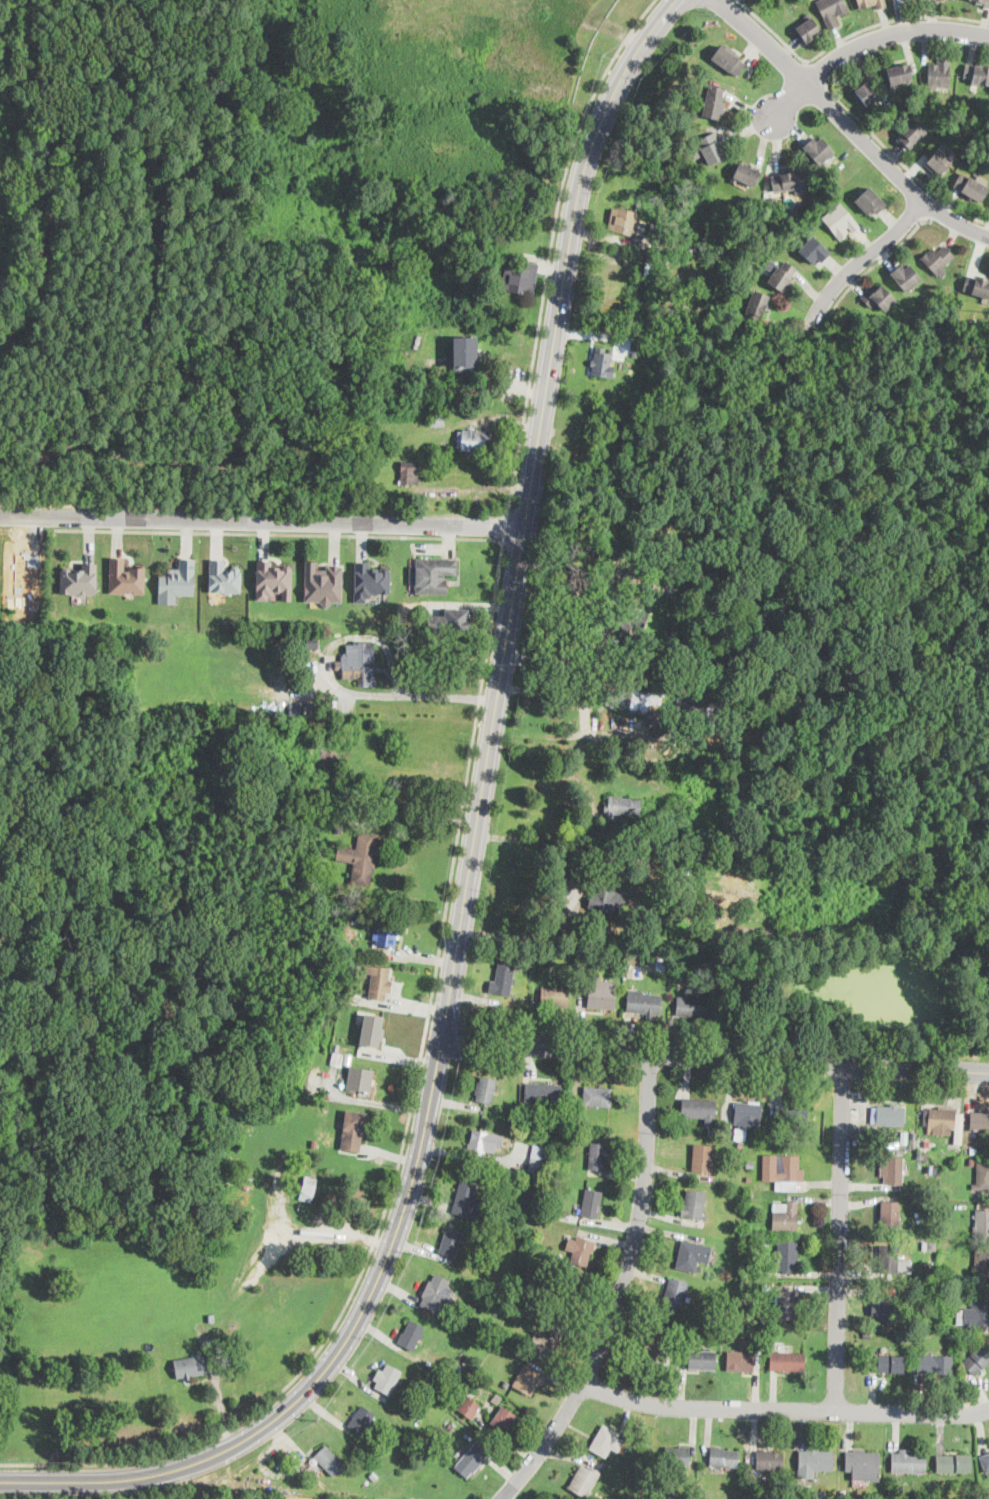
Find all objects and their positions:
building: (982, 2)
building: (871, 3)
road: (669, 5)
road: (716, 5)
building: (831, 10)
road: (891, 18)
building: (808, 28)
road: (773, 30)
road: (869, 39)
building: (728, 60)
road: (629, 65)
building: (899, 73)
building: (939, 73)
road: (816, 74)
building: (977, 74)
building: (867, 88)
building: (713, 102)
road: (730, 104)
road: (746, 105)
building: (967, 105)
road: (792, 126)
road: (849, 126)
road: (748, 129)
building: (912, 132)
road: (813, 133)
road: (724, 138)
road: (763, 140)
road: (777, 143)
building: (711, 148)
building: (819, 150)
building: (939, 160)
road: (901, 161)
road: (754, 163)
road: (785, 164)
building: (746, 173)
building: (789, 181)
building: (969, 188)
building: (870, 201)
building: (772, 202)
building: (624, 221)
building: (839, 221)
building: (654, 226)
road: (549, 244)
building: (813, 250)
building: (650, 259)
road: (859, 259)
building: (937, 260)
road: (873, 263)
building: (782, 276)
building: (905, 276)
building: (521, 278)
building: (977, 286)
building: (877, 297)
building: (938, 300)
building: (755, 306)
park: (137, 307)
building: (420, 337)
building: (504, 341)
building: (641, 341)
building: (635, 351)
building: (463, 352)
building: (602, 364)
building: (661, 382)
building: (438, 420)
building: (473, 439)
building: (374, 464)
building: (410, 472)
road: (549, 490)
road: (261, 519)
road: (502, 525)
road: (277, 531)
building: (647, 553)
building: (431, 574)
building: (223, 577)
building: (125, 578)
road: (515, 578)
building: (178, 579)
building: (272, 579)
building: (78, 580)
building: (370, 581)
building: (322, 582)
road: (580, 611)
building: (625, 615)
building: (450, 621)
building: (283, 627)
building: (312, 642)
building: (638, 647)
building: (356, 663)
road: (338, 686)
road: (545, 689)
building: (642, 699)
building: (686, 701)
building: (323, 710)
building: (231, 725)
building: (250, 746)
building: (298, 755)
building: (818, 758)
building: (867, 798)
building: (646, 805)
building: (622, 807)
building: (843, 807)
building: (337, 828)
building: (657, 829)
building: (322, 835)
road: (538, 836)
building: (361, 858)
building: (583, 862)
building: (573, 864)
building: (606, 900)
building: (354, 920)
building: (387, 934)
building: (583, 954)
building: (538, 957)
building: (357, 967)
building: (630, 972)
building: (504, 975)
building: (380, 983)
building: (600, 992)
building: (554, 996)
building: (360, 1000)
building: (644, 1003)
building: (694, 1004)
building: (341, 1019)
building: (371, 1030)
road: (459, 1031)
road: (715, 1054)
building: (335, 1063)
building: (360, 1078)
building: (486, 1089)
building: (542, 1094)
building: (342, 1095)
building: (597, 1096)
building: (699, 1109)
building: (747, 1113)
building: (791, 1115)
building: (887, 1115)
building: (939, 1119)
building: (980, 1121)
road: (406, 1126)
building: (958, 1128)
building: (352, 1130)
building: (739, 1133)
building: (540, 1134)
building: (882, 1135)
building: (902, 1136)
building: (864, 1139)
building: (911, 1141)
building: (314, 1142)
building: (738, 1143)
building: (924, 1143)
building: (483, 1144)
building: (974, 1151)
building: (922, 1156)
building: (598, 1158)
building: (539, 1159)
building: (703, 1159)
building: (971, 1162)
building: (750, 1165)
building: (782, 1170)
building: (892, 1170)
building: (981, 1176)
building: (541, 1184)
building: (308, 1189)
building: (244, 1192)
building: (749, 1195)
building: (468, 1200)
building: (591, 1203)
building: (695, 1204)
building: (784, 1215)
building: (890, 1215)
building: (982, 1224)
building: (308, 1231)
building: (947, 1233)
road: (840, 1236)
building: (468, 1238)
building: (451, 1242)
building: (582, 1250)
building: (543, 1252)
building: (691, 1255)
building: (787, 1256)
building: (888, 1260)
building: (981, 1264)
building: (535, 1268)
building: (699, 1268)
road: (380, 1270)
building: (767, 1285)
road: (621, 1290)
building: (437, 1294)
building: (939, 1294)
building: (567, 1296)
building: (675, 1296)
building: (689, 1299)
building: (745, 1299)
building: (503, 1300)
building: (788, 1304)
building: (887, 1308)
building: (523, 1309)
building: (974, 1313)
building: (534, 1315)
building: (211, 1317)
building: (676, 1332)
building: (411, 1335)
building: (867, 1335)
building: (729, 1336)
building: (717, 1337)
building: (546, 1342)
building: (655, 1342)
building: (702, 1360)
building: (740, 1360)
building: (977, 1360)
building: (787, 1361)
building: (890, 1363)
building: (934, 1363)
building: (190, 1367)
building: (387, 1379)
building: (526, 1380)
building: (504, 1385)
road: (330, 1386)
building: (496, 1399)
building: (469, 1407)
road: (785, 1408)
building: (409, 1415)
building: (501, 1419)
building: (362, 1421)
building: (451, 1427)
building: (607, 1441)
building: (677, 1457)
building: (473, 1458)
building: (724, 1459)
building: (330, 1461)
building: (770, 1461)
building: (909, 1462)
building: (985, 1462)
building: (814, 1463)
building: (953, 1463)
building: (863, 1466)
building: (375, 1476)
road: (114, 1479)
building: (584, 1480)
building: (639, 1485)
building: (843, 1492)
building: (669, 1494)

